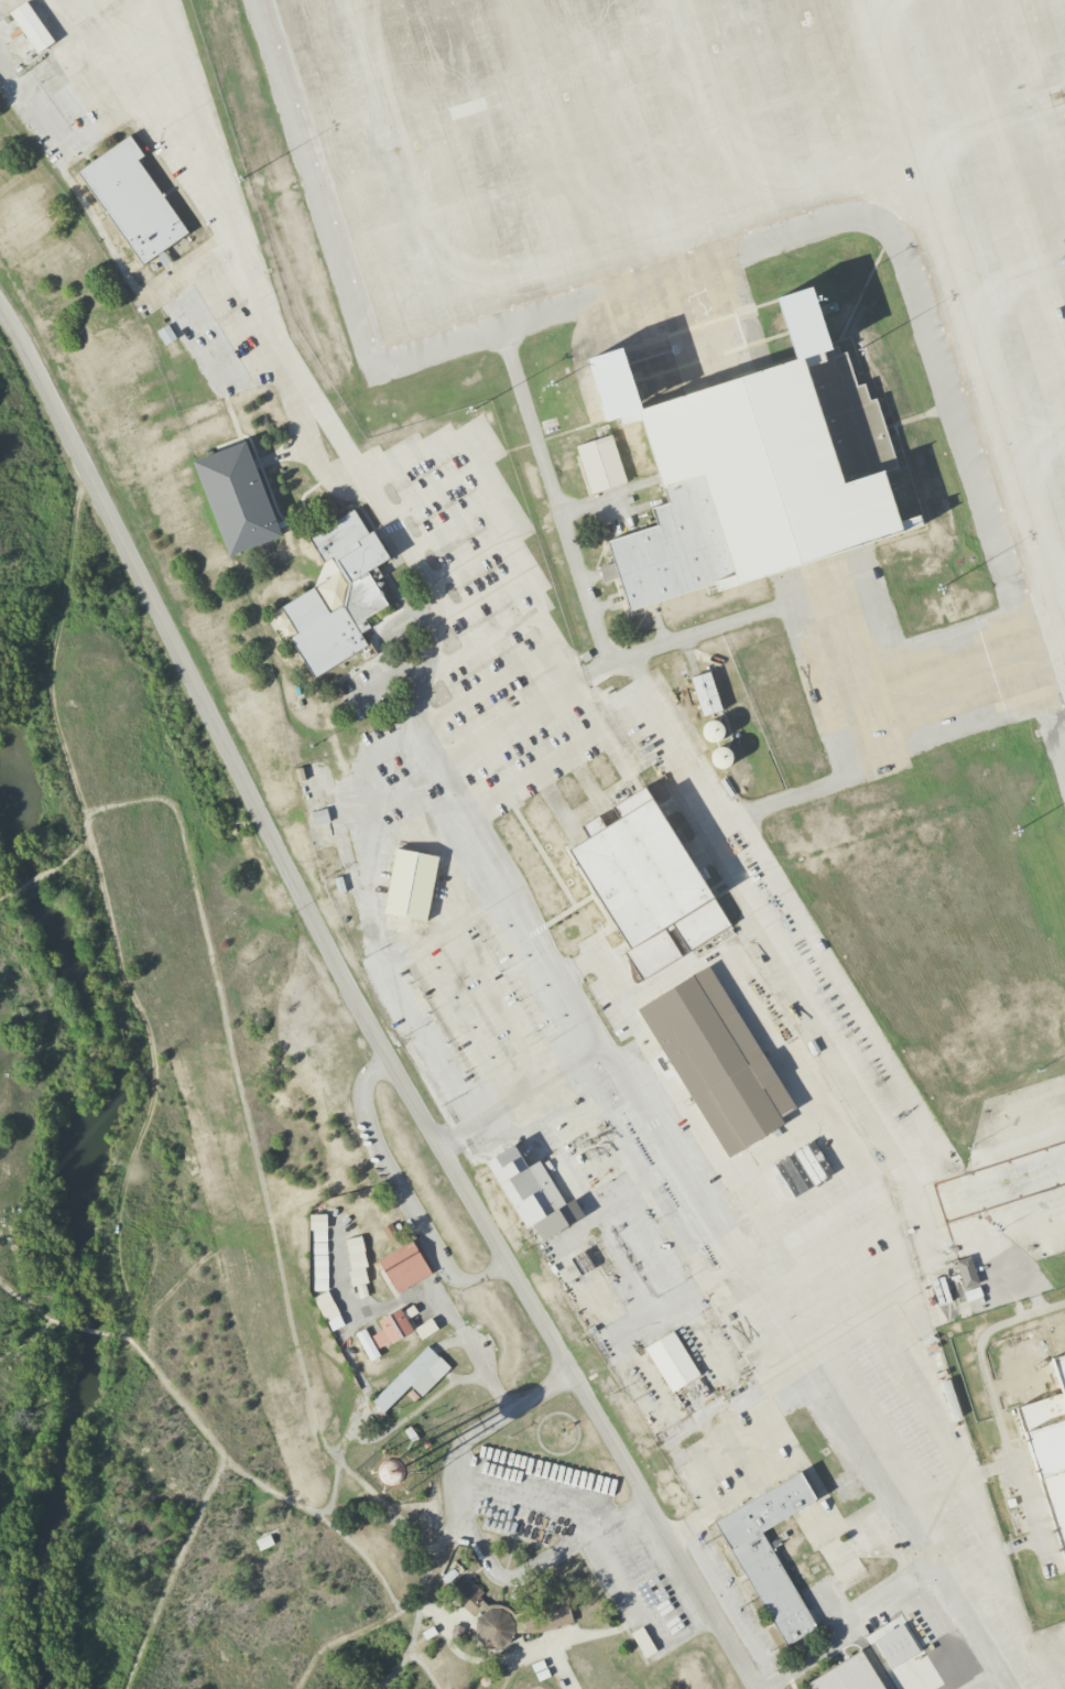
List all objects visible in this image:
building: (32, 28)
building: (134, 201)
airport apron: (711, 202)
building: (166, 335)
airport apron: (666, 346)
building: (750, 476)
building: (238, 500)
building: (283, 526)
building: (338, 595)
airport apron: (890, 670)
airport: (651, 684)
building: (705, 694)
road: (511, 719)
building: (319, 818)
road: (508, 869)
road: (32, 879)
building: (646, 883)
building: (411, 885)
road: (4, 895)
road: (360, 1007)
road: (235, 1062)
building: (717, 1062)
road: (520, 1093)
airport apron: (1017, 1169)
road: (403, 1193)
building: (532, 1193)
building: (319, 1250)
building: (357, 1265)
building: (404, 1267)
building: (966, 1273)
building: (972, 1293)
road: (29, 1306)
building: (327, 1310)
road: (83, 1329)
building: (425, 1329)
building: (387, 1331)
road: (26, 1340)
building: (672, 1362)
building: (413, 1378)
building: (1047, 1448)
road: (221, 1454)
road: (469, 1531)
building: (769, 1555)
road: (367, 1561)
road: (173, 1571)
building: (506, 1615)
road: (850, 1630)
building: (456, 1631)
building: (643, 1643)
building: (895, 1646)
road: (406, 1652)
road: (424, 1669)
building: (847, 1676)
road: (506, 1678)

